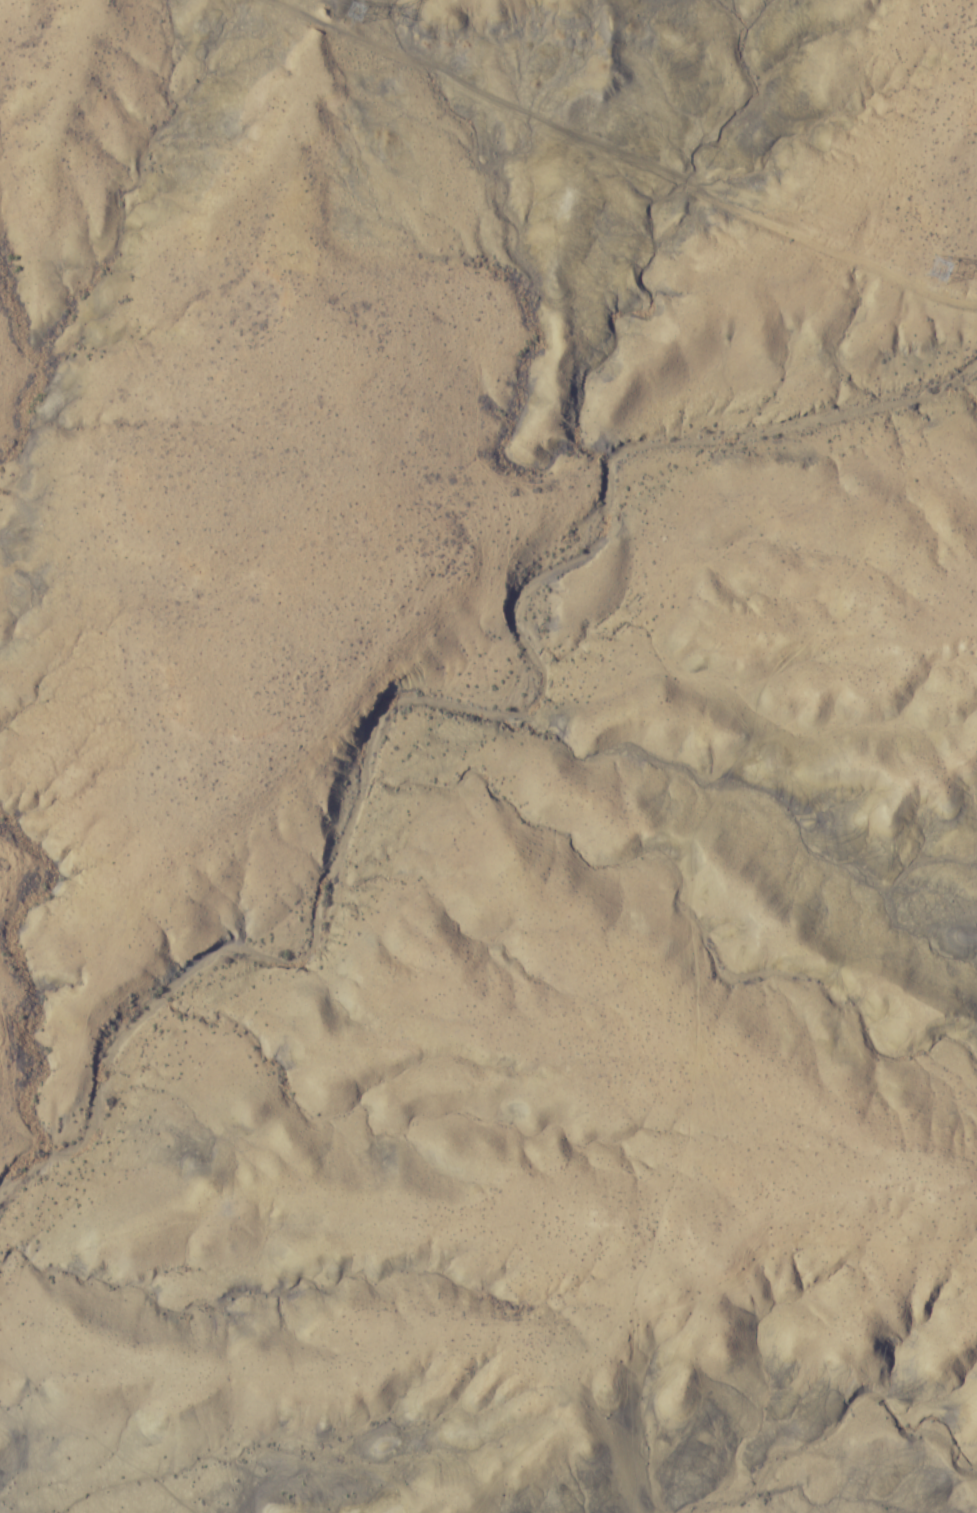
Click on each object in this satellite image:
power tower: (935, 255)

